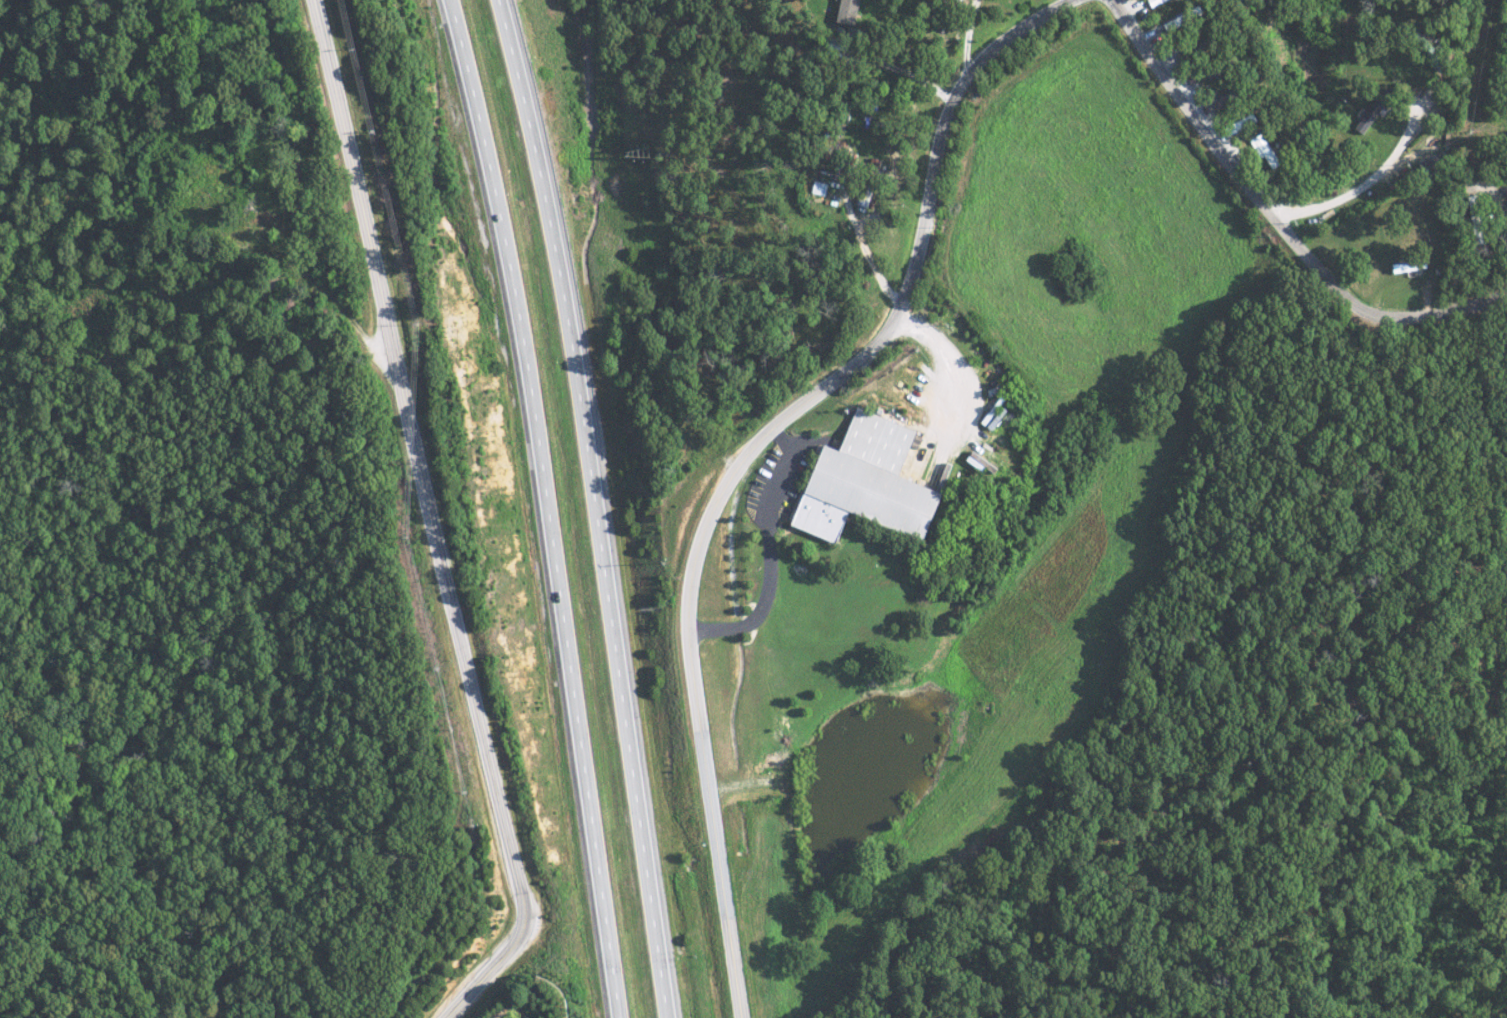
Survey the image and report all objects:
road: (1065, 1)
building: (1156, 1)
building: (850, 11)
road: (964, 38)
building: (1373, 111)
road: (1367, 180)
road: (748, 187)
building: (819, 187)
building: (865, 196)
road: (1277, 218)
building: (1410, 265)
road: (744, 451)
road: (416, 476)
building: (872, 481)
road: (551, 506)
road: (583, 507)
road: (772, 556)
road: (474, 984)
road: (512, 1006)
park: (508, 1008)

